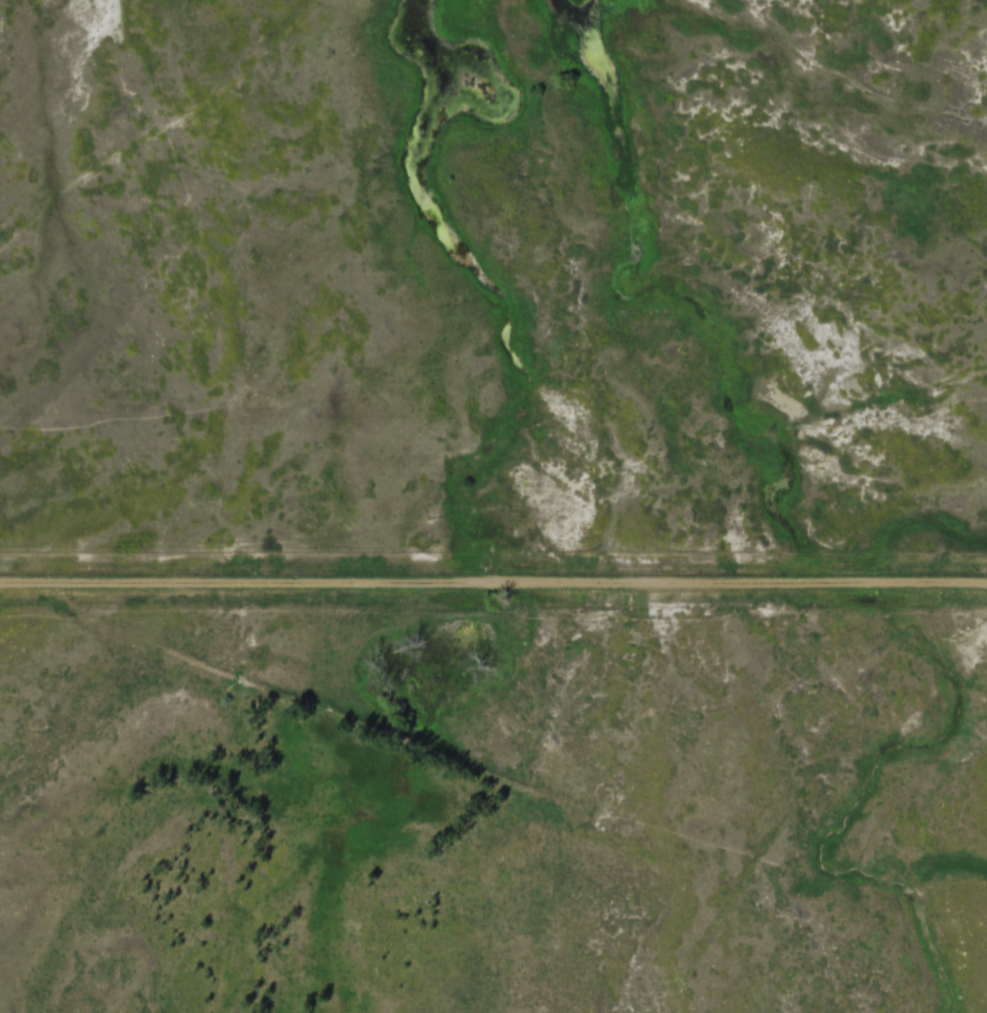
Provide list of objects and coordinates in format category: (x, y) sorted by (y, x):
road: (493, 584)
dam: (378, 738)

